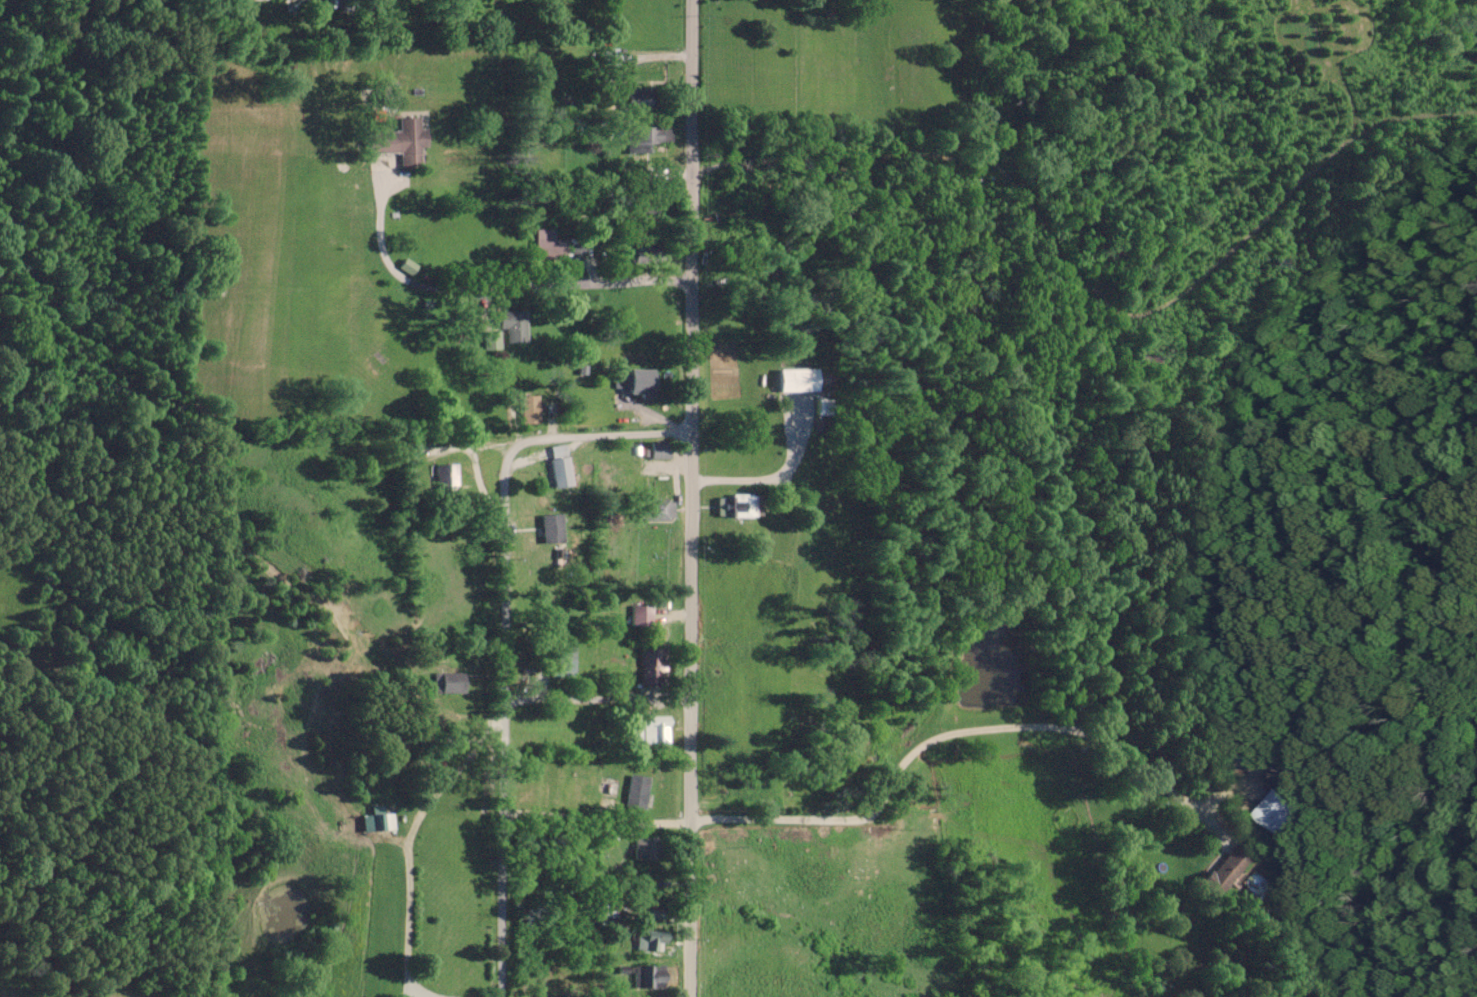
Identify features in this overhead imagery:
building: (633, 100)
building: (645, 140)
building: (406, 142)
building: (547, 244)
road: (495, 285)
building: (503, 327)
building: (799, 376)
building: (631, 380)
building: (823, 405)
building: (532, 413)
road: (651, 417)
building: (660, 454)
building: (560, 463)
road: (774, 476)
building: (446, 481)
road: (690, 498)
building: (739, 506)
building: (659, 507)
building: (553, 527)
building: (642, 615)
road: (503, 630)
building: (563, 657)
building: (650, 665)
building: (452, 685)
road: (597, 696)
building: (655, 731)
building: (637, 788)
road: (881, 795)
building: (1280, 811)
building: (372, 825)
building: (644, 848)
building: (1229, 866)
road: (408, 922)
building: (651, 939)
building: (647, 978)

